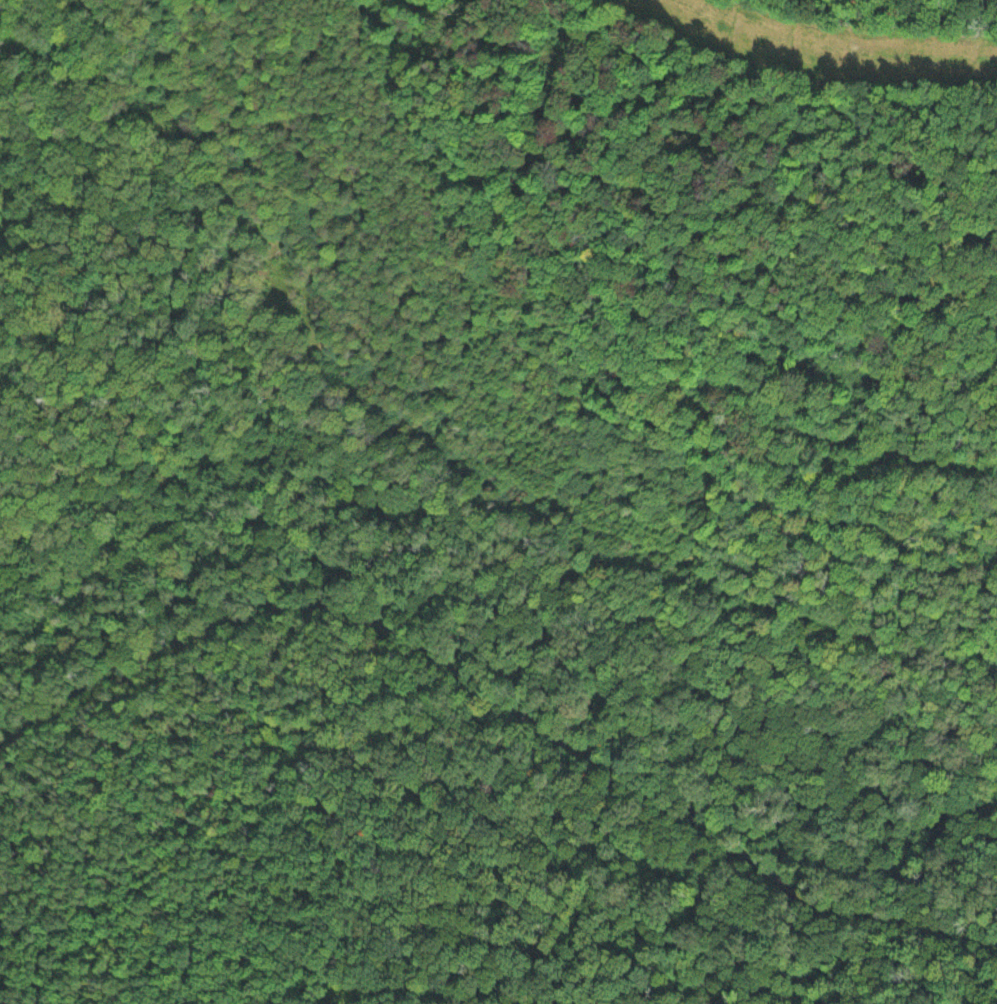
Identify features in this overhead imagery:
road: (498, 688)

